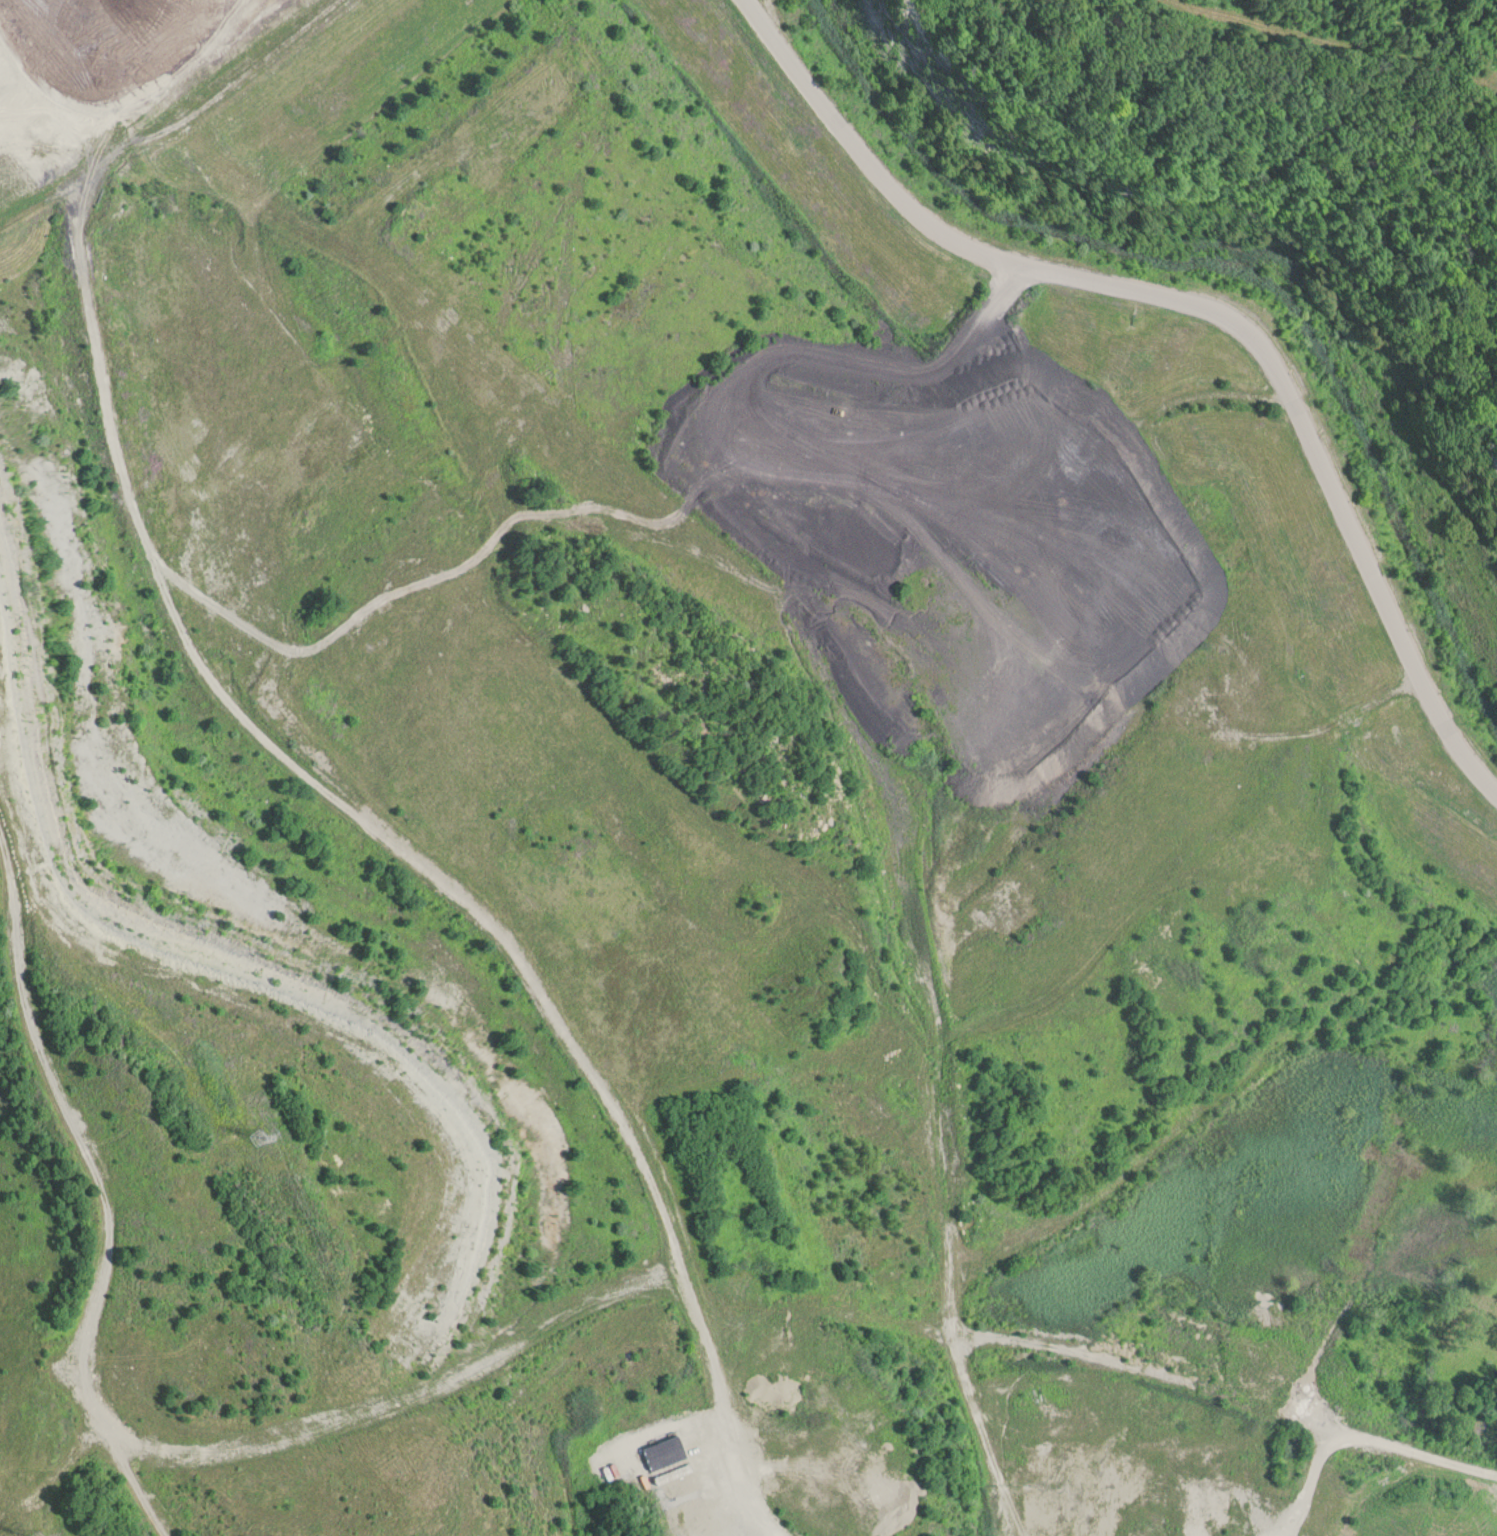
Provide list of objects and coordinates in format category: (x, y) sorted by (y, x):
building: (662, 1449)
building: (670, 1471)
building: (682, 1498)
building: (1061, 1530)
power tower: (36, 1533)

